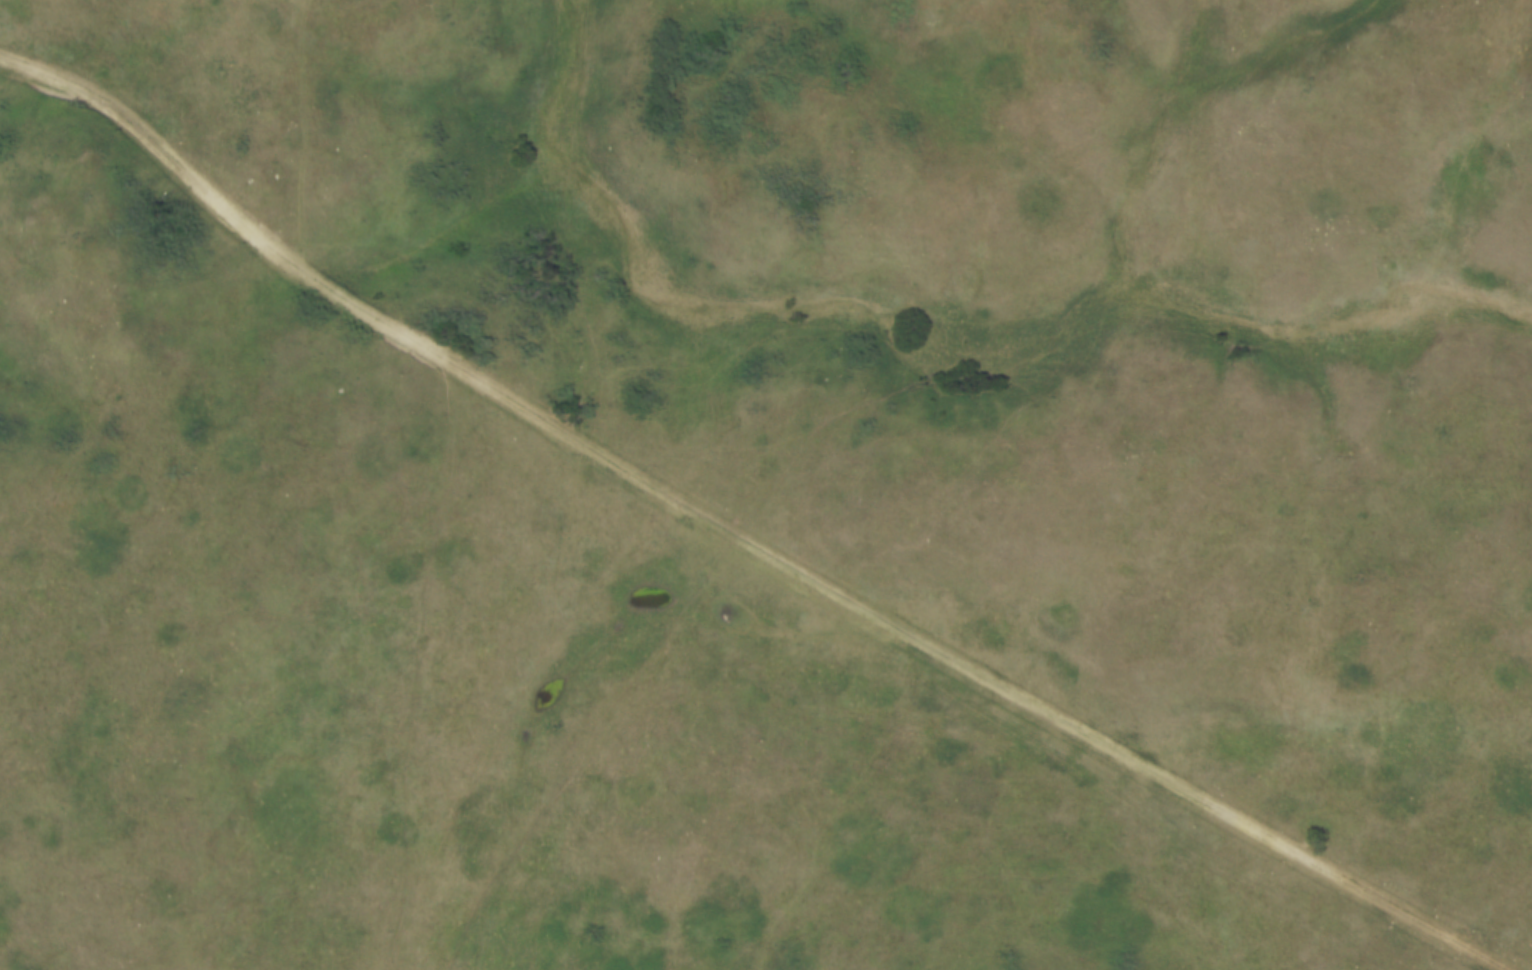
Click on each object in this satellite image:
road: (740, 536)

